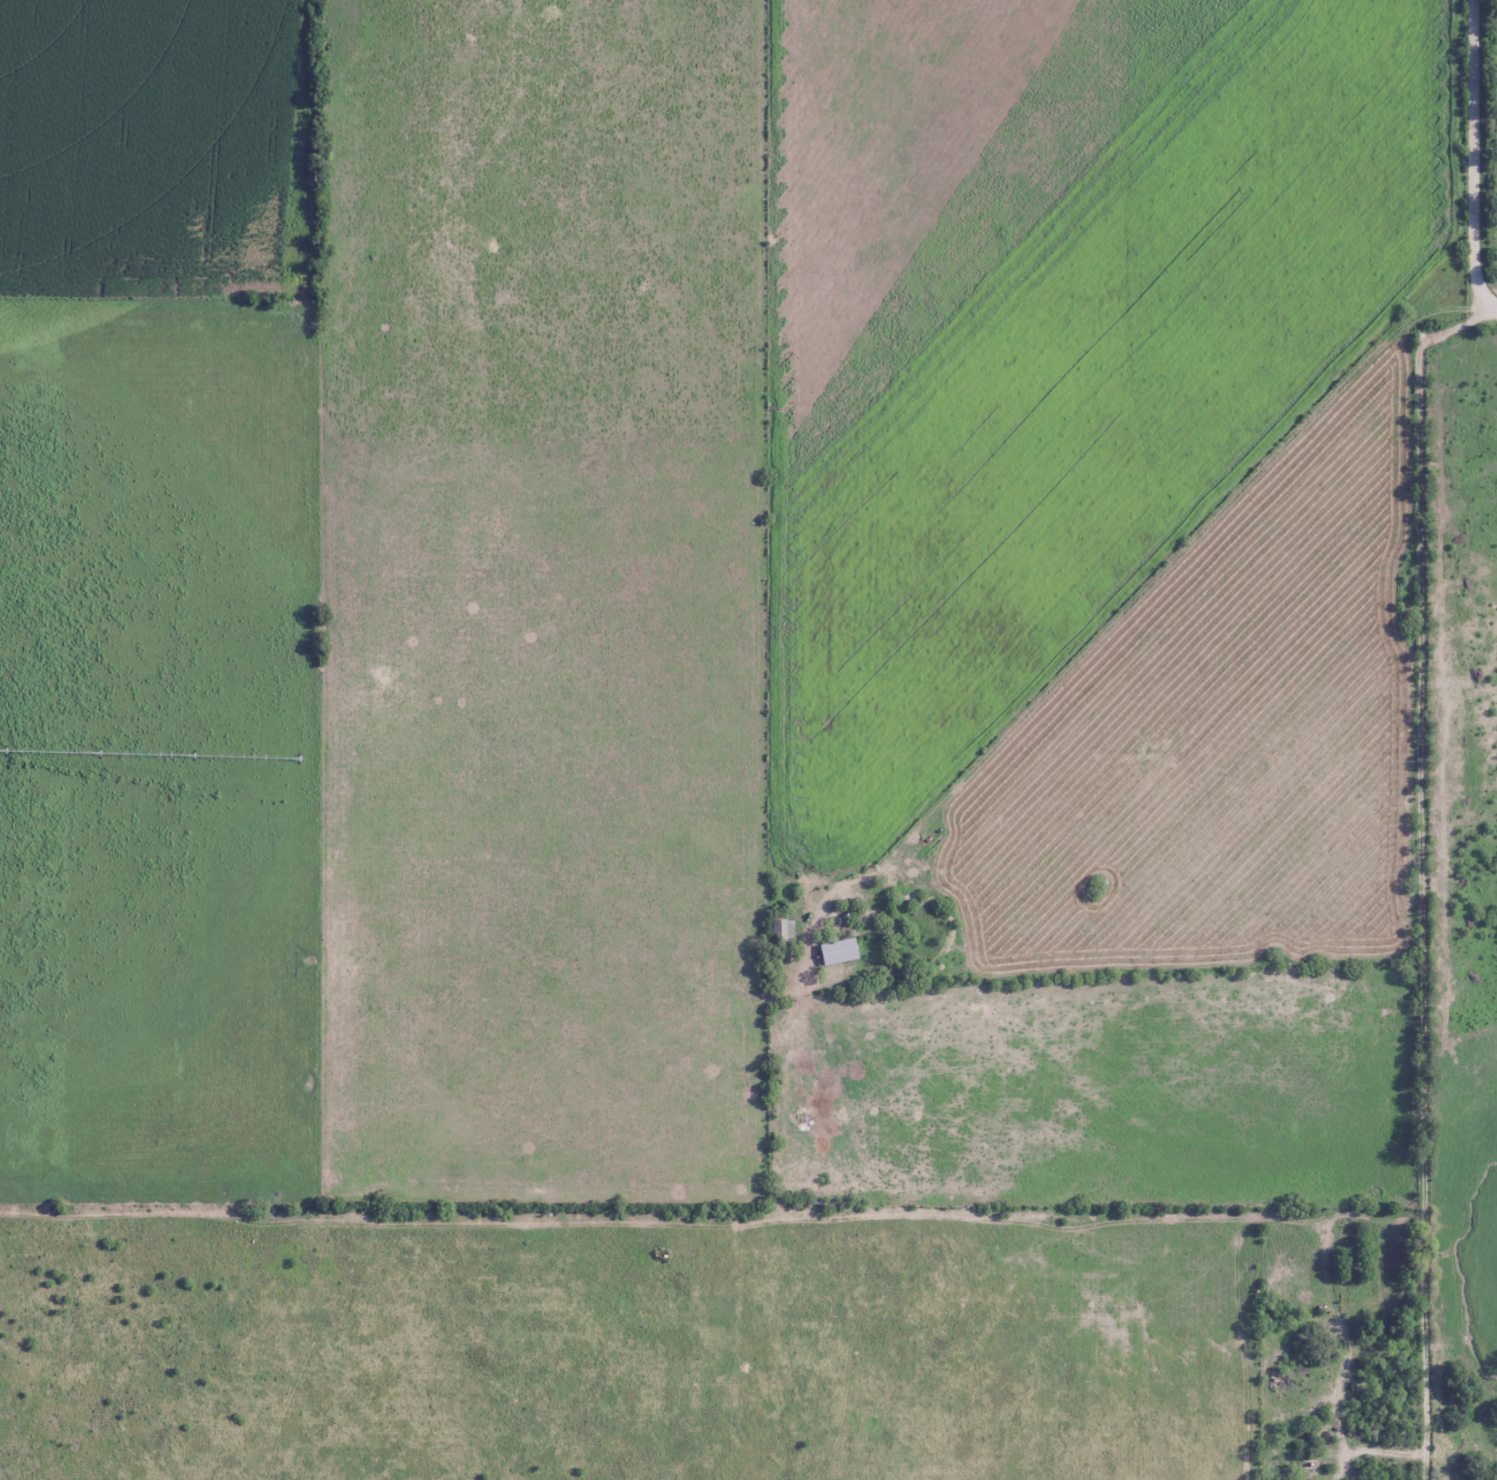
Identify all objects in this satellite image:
road: (1475, 162)
road: (1169, 570)
building: (782, 931)
building: (840, 952)

